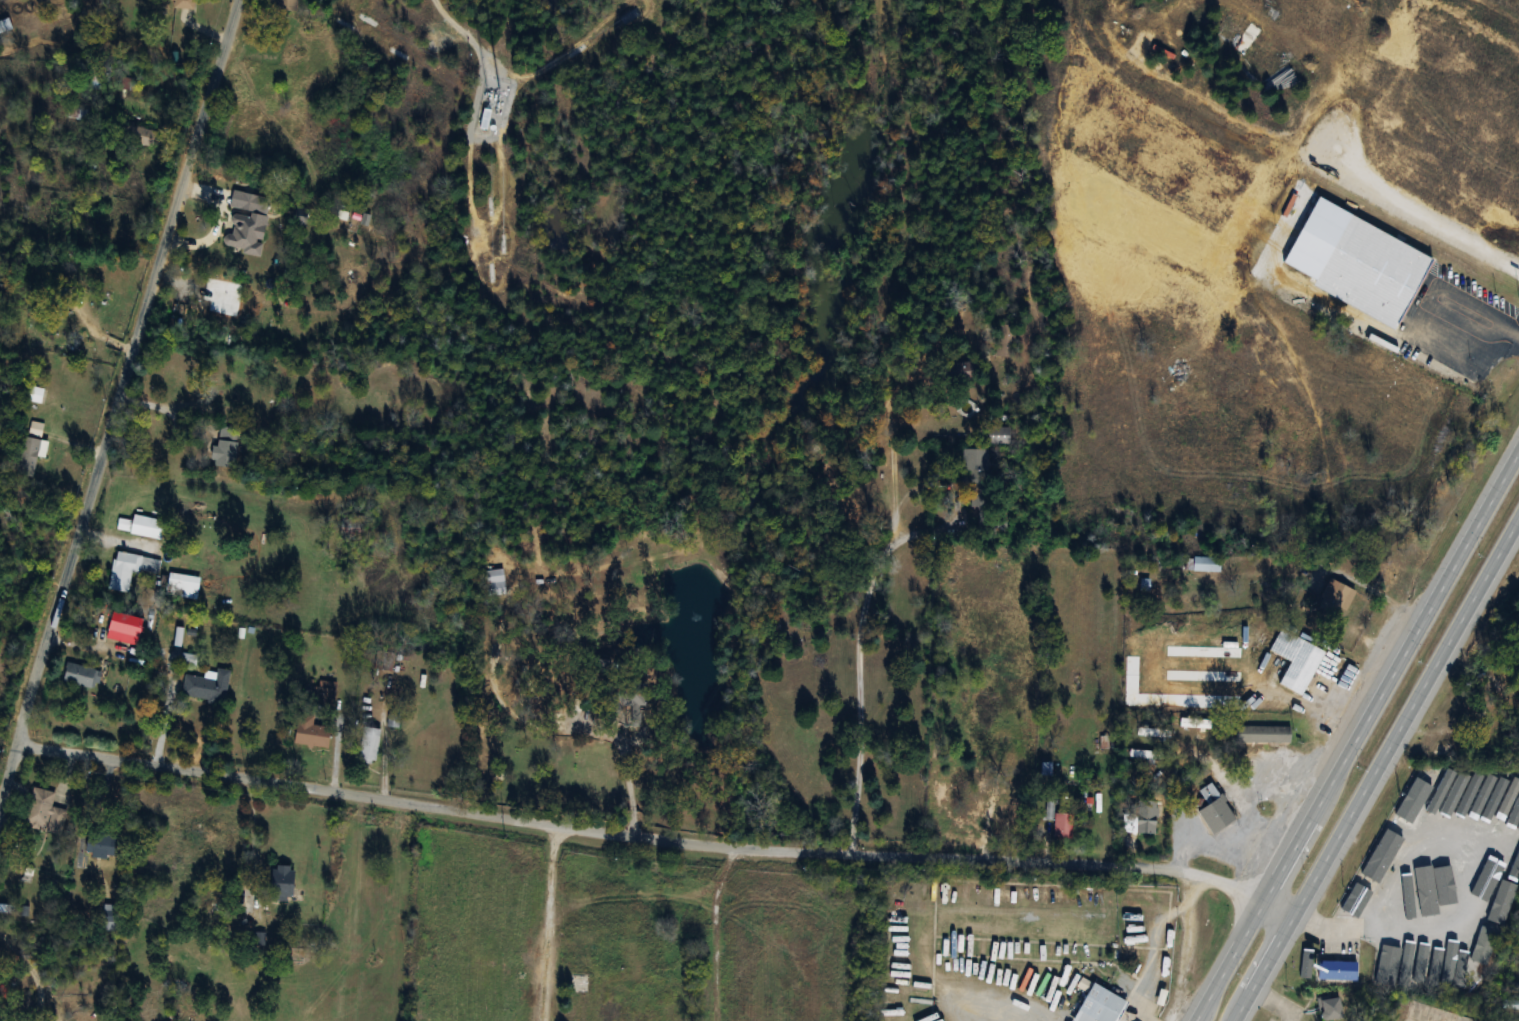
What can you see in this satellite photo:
building: (180, 4)
building: (285, 6)
road: (459, 27)
building: (76, 112)
building: (484, 119)
building: (1515, 131)
building: (136, 136)
building: (248, 202)
building: (247, 232)
building: (1371, 273)
road: (1425, 301)
building: (1004, 341)
building: (957, 372)
building: (236, 383)
building: (33, 395)
road: (118, 402)
building: (997, 436)
building: (226, 447)
building: (26, 457)
building: (974, 460)
building: (142, 527)
building: (1201, 564)
building: (1246, 566)
building: (129, 569)
building: (494, 582)
building: (184, 586)
building: (1336, 594)
building: (127, 645)
road: (858, 658)
building: (1295, 661)
building: (77, 675)
building: (206, 687)
building: (323, 693)
building: (629, 699)
road: (162, 716)
building: (1193, 723)
building: (1485, 725)
building: (309, 732)
building: (1261, 734)
road: (1359, 735)
building: (367, 746)
road: (1377, 771)
road: (628, 791)
building: (948, 791)
building: (1473, 798)
building: (1414, 800)
building: (1493, 802)
building: (1213, 810)
building: (42, 811)
building: (1004, 814)
building: (1145, 816)
building: (1059, 821)
road: (251, 835)
road: (657, 840)
building: (99, 844)
building: (1388, 845)
building: (1426, 880)
building: (280, 883)
building: (1446, 890)
building: (204, 899)
building: (108, 917)
road: (546, 923)
building: (627, 935)
building: (293, 955)
road: (23, 958)
building: (1400, 961)
building: (1379, 964)
building: (1416, 965)
building: (1336, 970)
road: (54, 1001)
road: (35, 1005)
building: (1098, 1005)
building: (1328, 1007)
building: (575, 1008)

